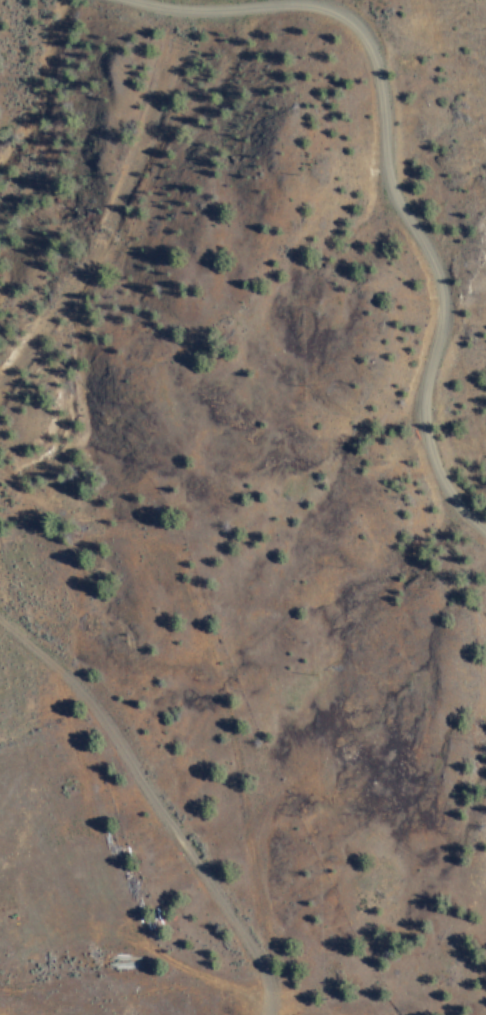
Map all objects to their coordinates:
road: (73, 176)
road: (182, 703)

